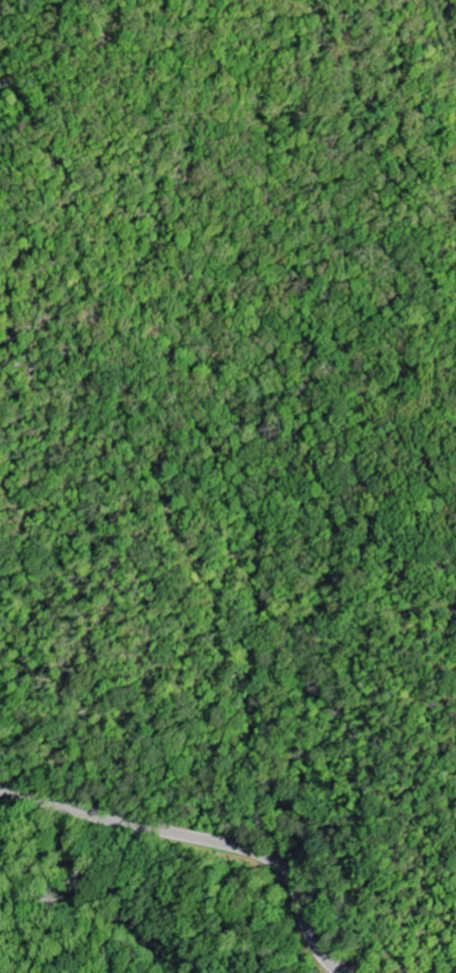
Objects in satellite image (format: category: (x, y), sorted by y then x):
road: (202, 834)
road: (2, 963)

